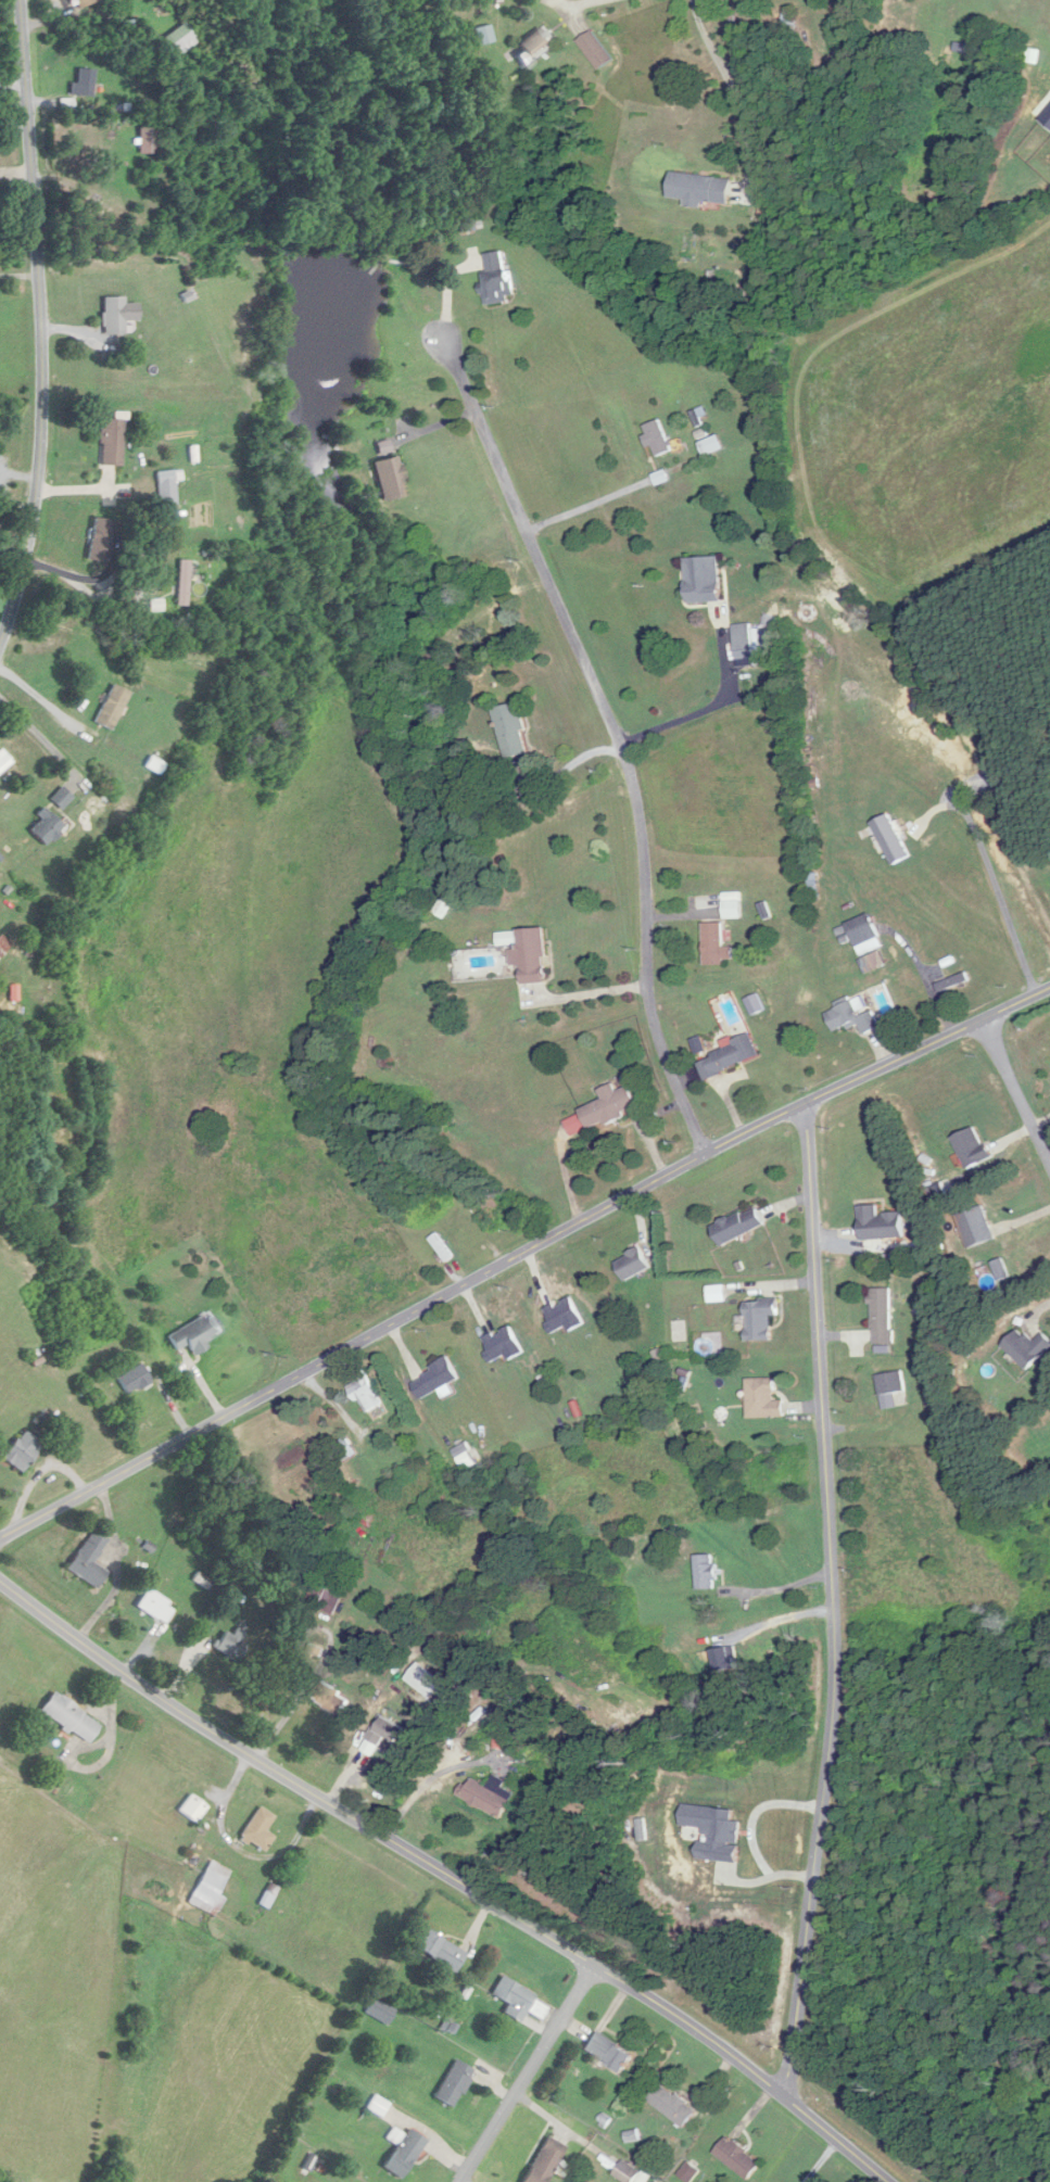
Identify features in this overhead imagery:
building: (83, 2)
road: (580, 3)
building: (789, 24)
building: (484, 34)
building: (180, 40)
building: (533, 46)
building: (594, 50)
building: (84, 83)
road: (732, 83)
road: (13, 84)
building: (699, 189)
building: (497, 277)
building: (113, 316)
road: (40, 317)
road: (21, 382)
building: (657, 439)
building: (112, 442)
building: (390, 471)
building: (168, 486)
road: (608, 497)
building: (100, 538)
building: (704, 580)
building: (184, 583)
road: (78, 585)
building: (744, 642)
road: (39, 696)
building: (112, 707)
road: (705, 708)
building: (511, 731)
road: (39, 734)
road: (618, 736)
building: (4, 761)
building: (61, 798)
building: (46, 826)
building: (891, 839)
road: (995, 880)
building: (863, 935)
building: (714, 944)
building: (3, 946)
building: (531, 955)
road: (593, 993)
building: (852, 1017)
building: (729, 1056)
road: (1016, 1093)
building: (603, 1111)
building: (972, 1147)
building: (880, 1225)
building: (738, 1227)
building: (976, 1228)
road: (519, 1254)
building: (632, 1265)
building: (717, 1294)
building: (882, 1317)
building: (760, 1319)
building: (195, 1334)
building: (503, 1345)
building: (1028, 1348)
building: (134, 1379)
building: (435, 1380)
building: (890, 1388)
building: (365, 1393)
building: (763, 1400)
building: (344, 1450)
building: (23, 1451)
building: (89, 1560)
building: (706, 1572)
road: (777, 1589)
road: (832, 1604)
building: (155, 1607)
road: (777, 1618)
building: (332, 1702)
building: (71, 1717)
building: (383, 1735)
building: (488, 1796)
building: (193, 1809)
building: (258, 1830)
road: (750, 1832)
road: (240, 1851)
road: (446, 1874)
building: (211, 1889)
building: (441, 1950)
building: (517, 2000)
building: (380, 2010)
building: (608, 2052)
road: (532, 2073)
building: (454, 2083)
building: (672, 2106)
building: (405, 2153)
building: (738, 2158)
building: (545, 2160)
road: (820, 2161)
building: (627, 2172)

